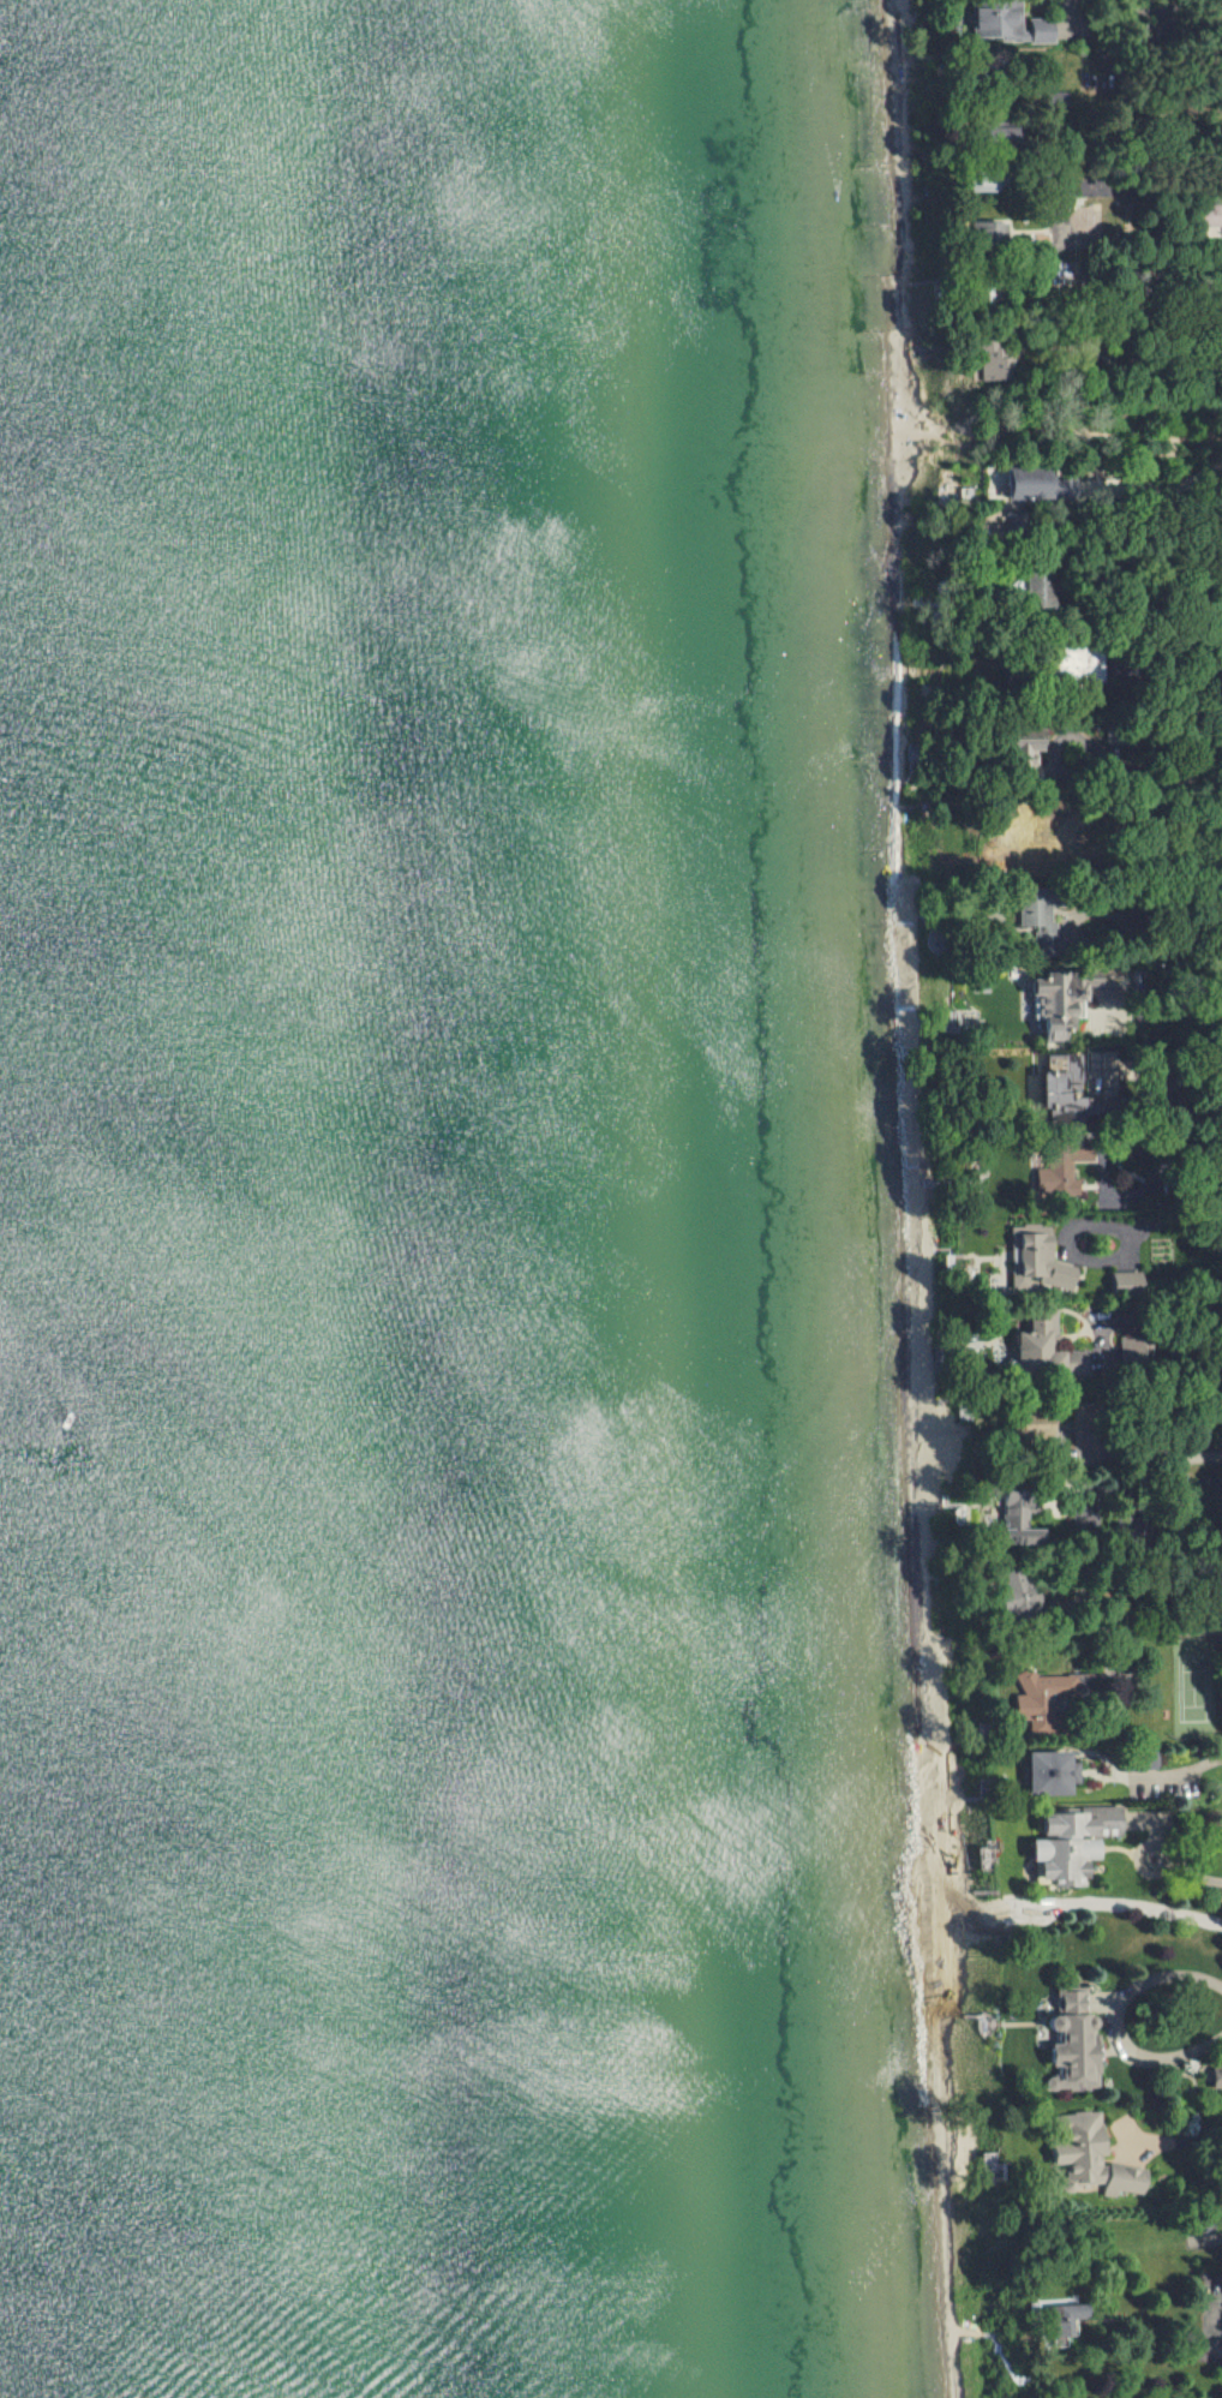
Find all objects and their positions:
building: (1011, 26)
building: (1006, 138)
road: (1118, 243)
road: (1130, 360)
building: (992, 361)
road: (1090, 438)
building: (1031, 484)
road: (1154, 596)
building: (1024, 746)
road: (1144, 779)
building: (1035, 917)
road: (1173, 921)
building: (1054, 1001)
road: (1179, 1009)
building: (1062, 1087)
building: (1060, 1172)
road: (1156, 1222)
building: (1037, 1258)
building: (1122, 1282)
road: (1169, 1302)
road: (1154, 1457)
road: (1188, 1485)
building: (1014, 1520)
road: (1172, 1628)
park: (1193, 1688)
building: (1041, 1699)
building: (1052, 1772)
road: (1170, 1776)
building: (1072, 1842)
road: (1186, 1870)
road: (1114, 2022)
building: (1073, 2045)
road: (1174, 2142)
building: (1082, 2147)
building: (1124, 2181)
road: (1176, 2253)
park: (1210, 2319)
building: (1067, 2321)

